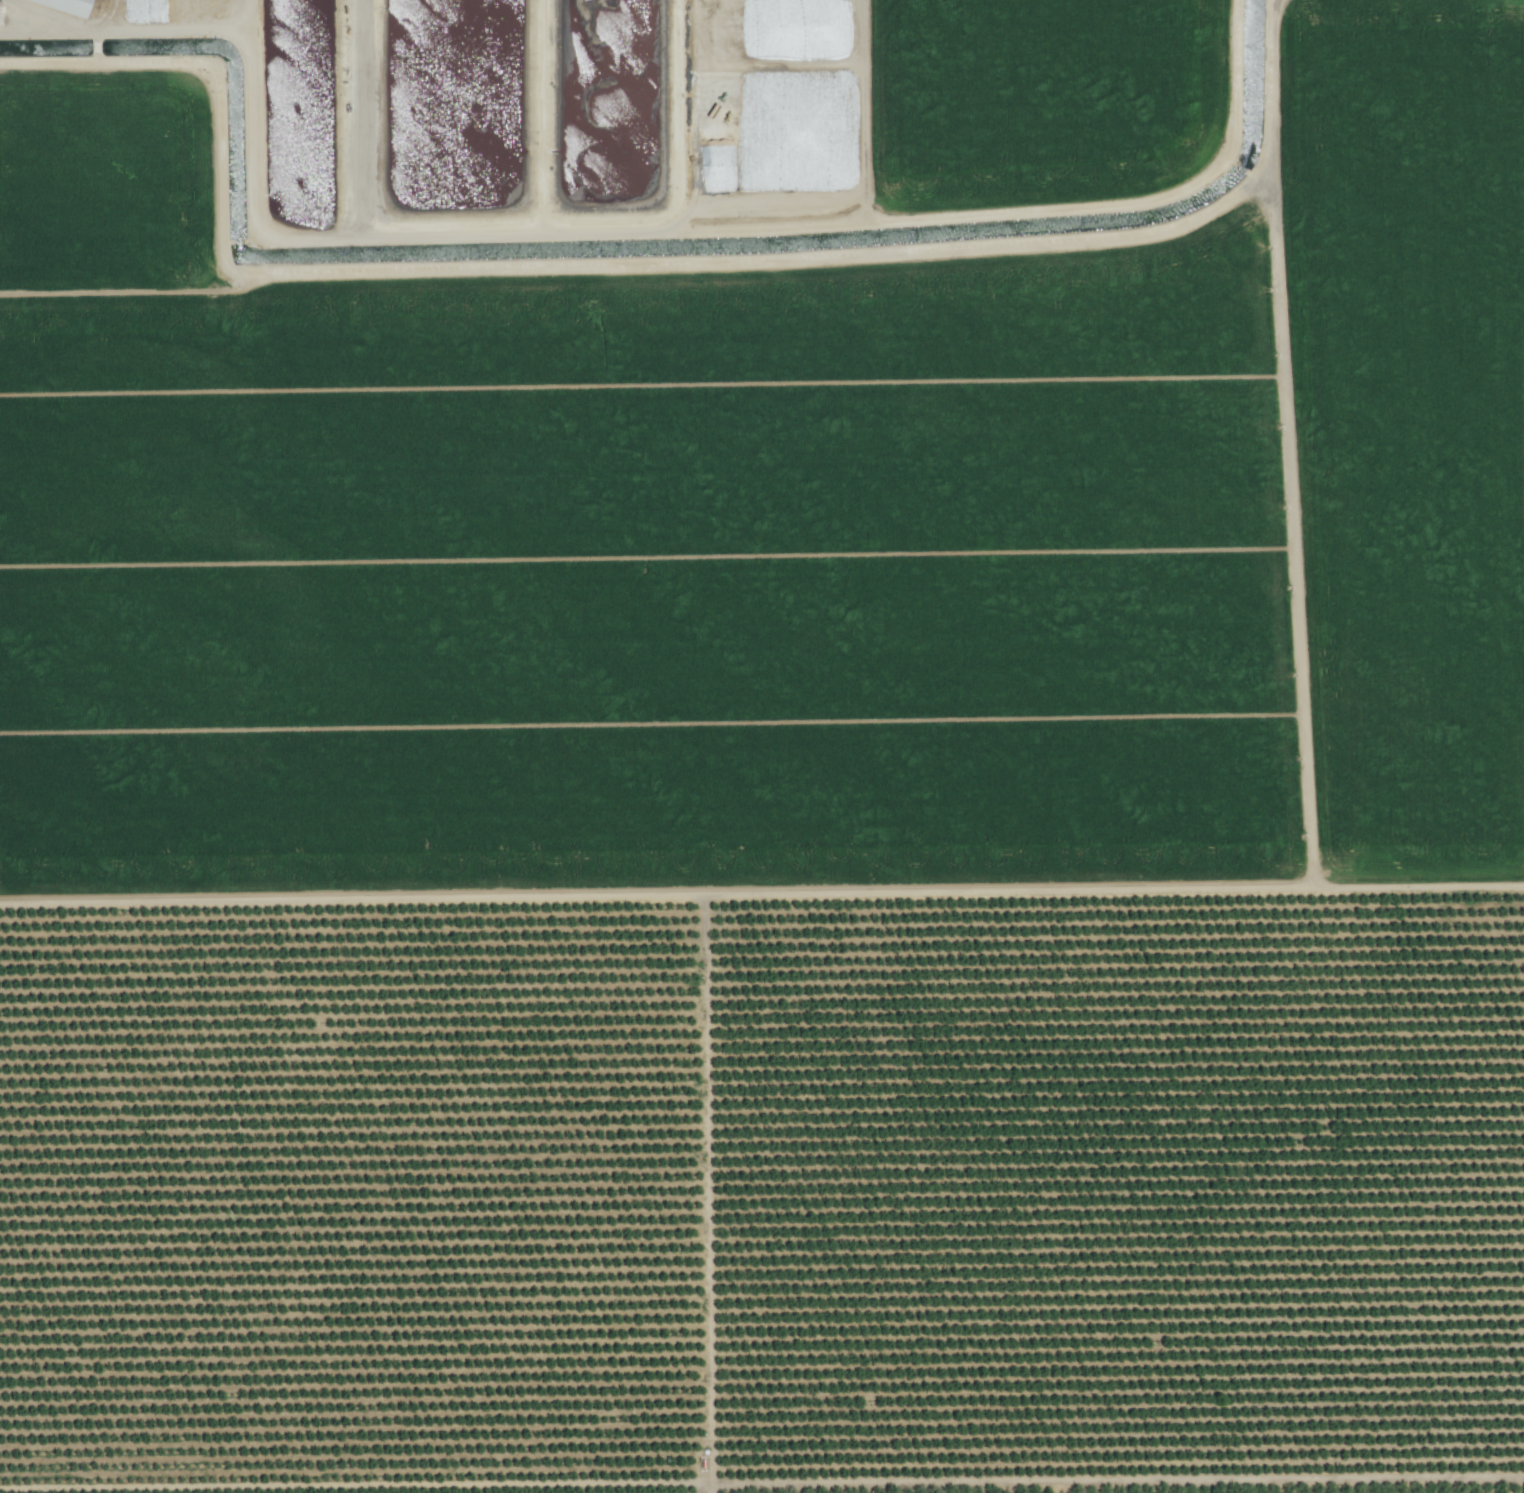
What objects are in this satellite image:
building: (64, 6)
building: (838, 6)
road: (250, 24)
road: (293, 234)

